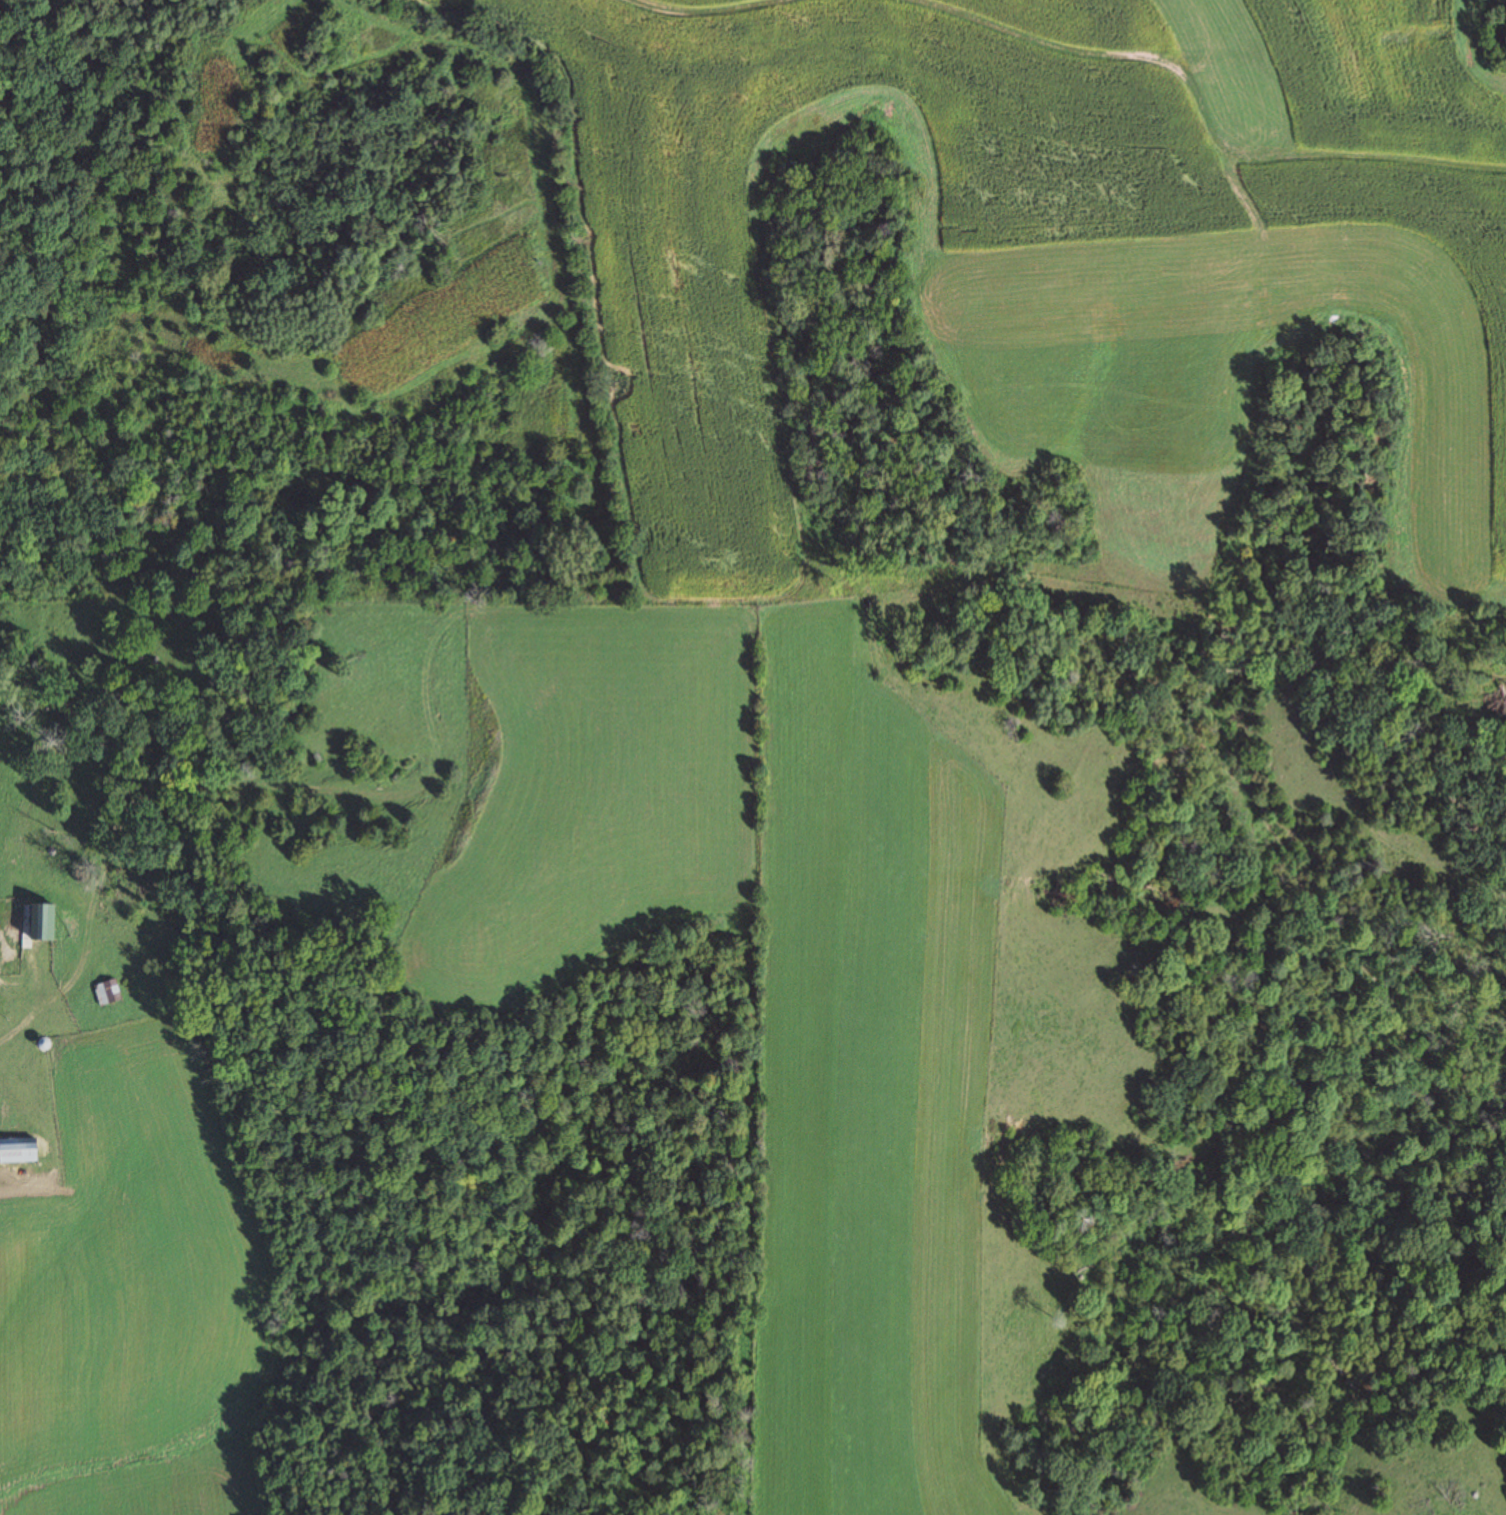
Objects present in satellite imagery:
building: (41, 921)
building: (106, 991)
road: (12, 1026)
building: (16, 1150)

